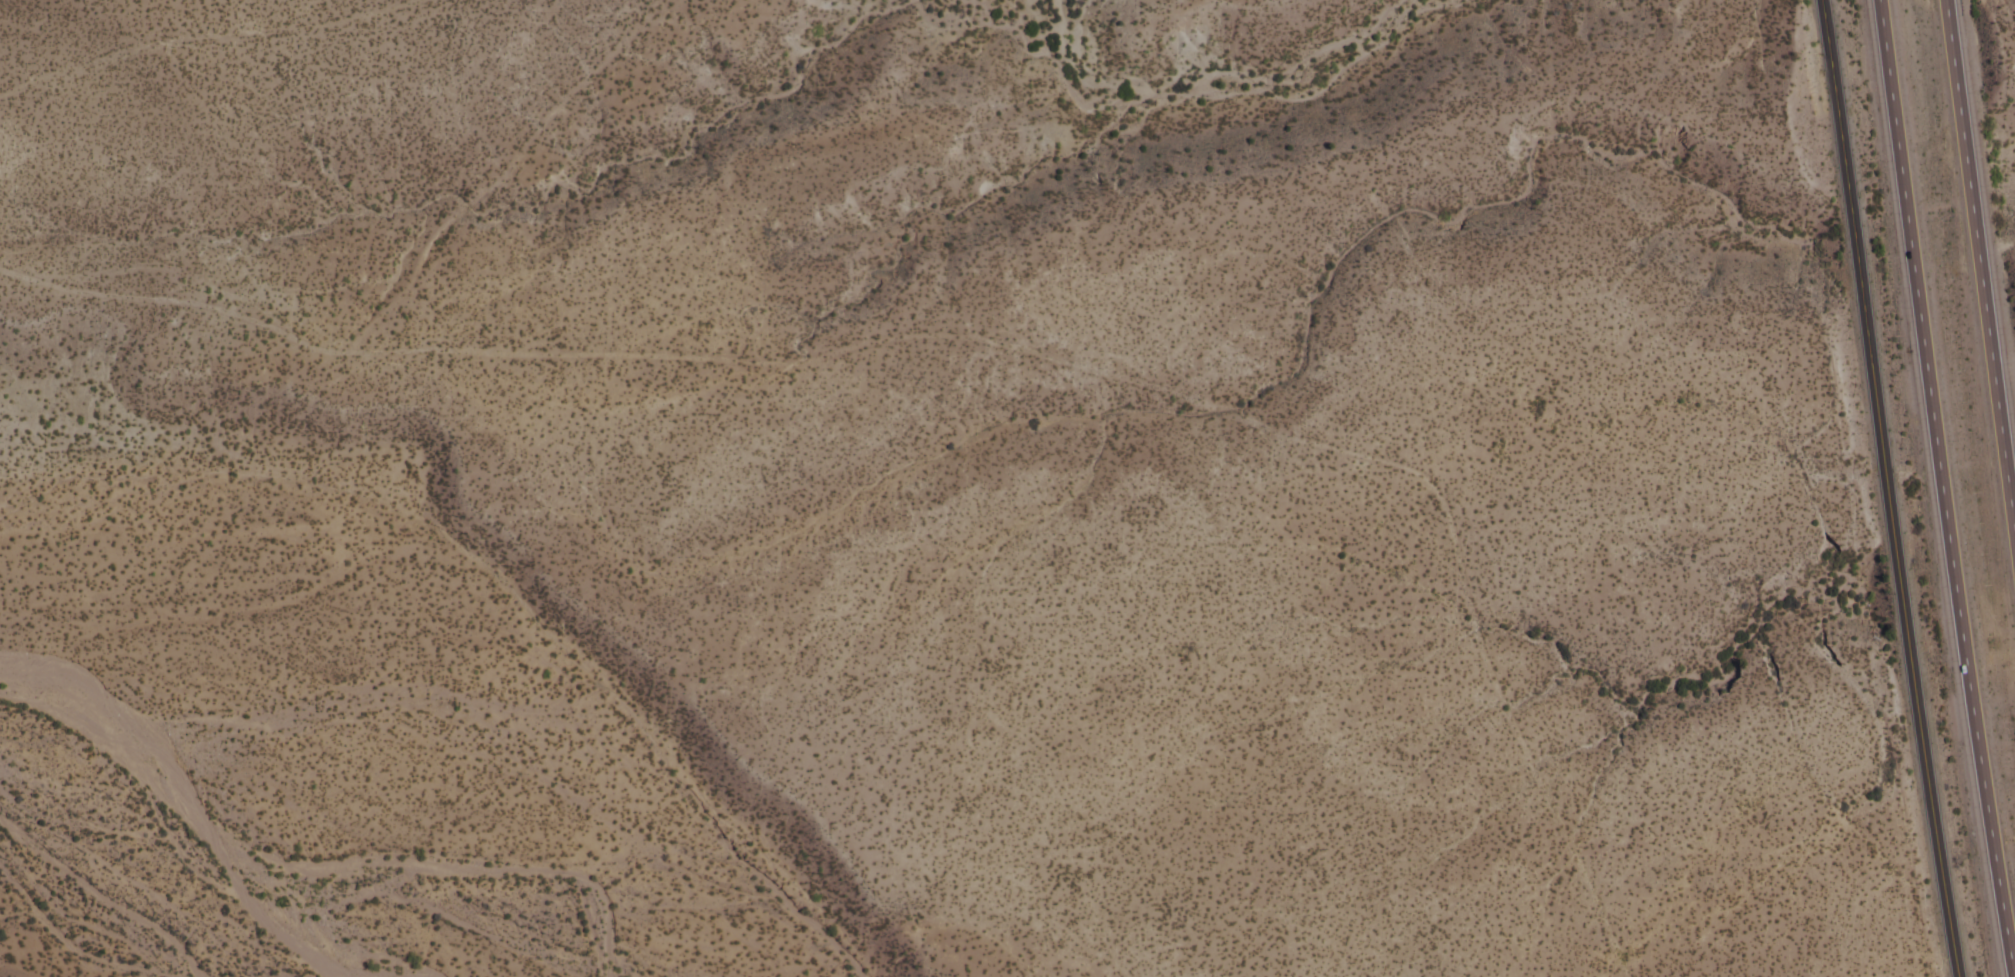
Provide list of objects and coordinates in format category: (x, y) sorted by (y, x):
road: (1980, 282)
road: (1889, 488)
road: (1939, 489)

